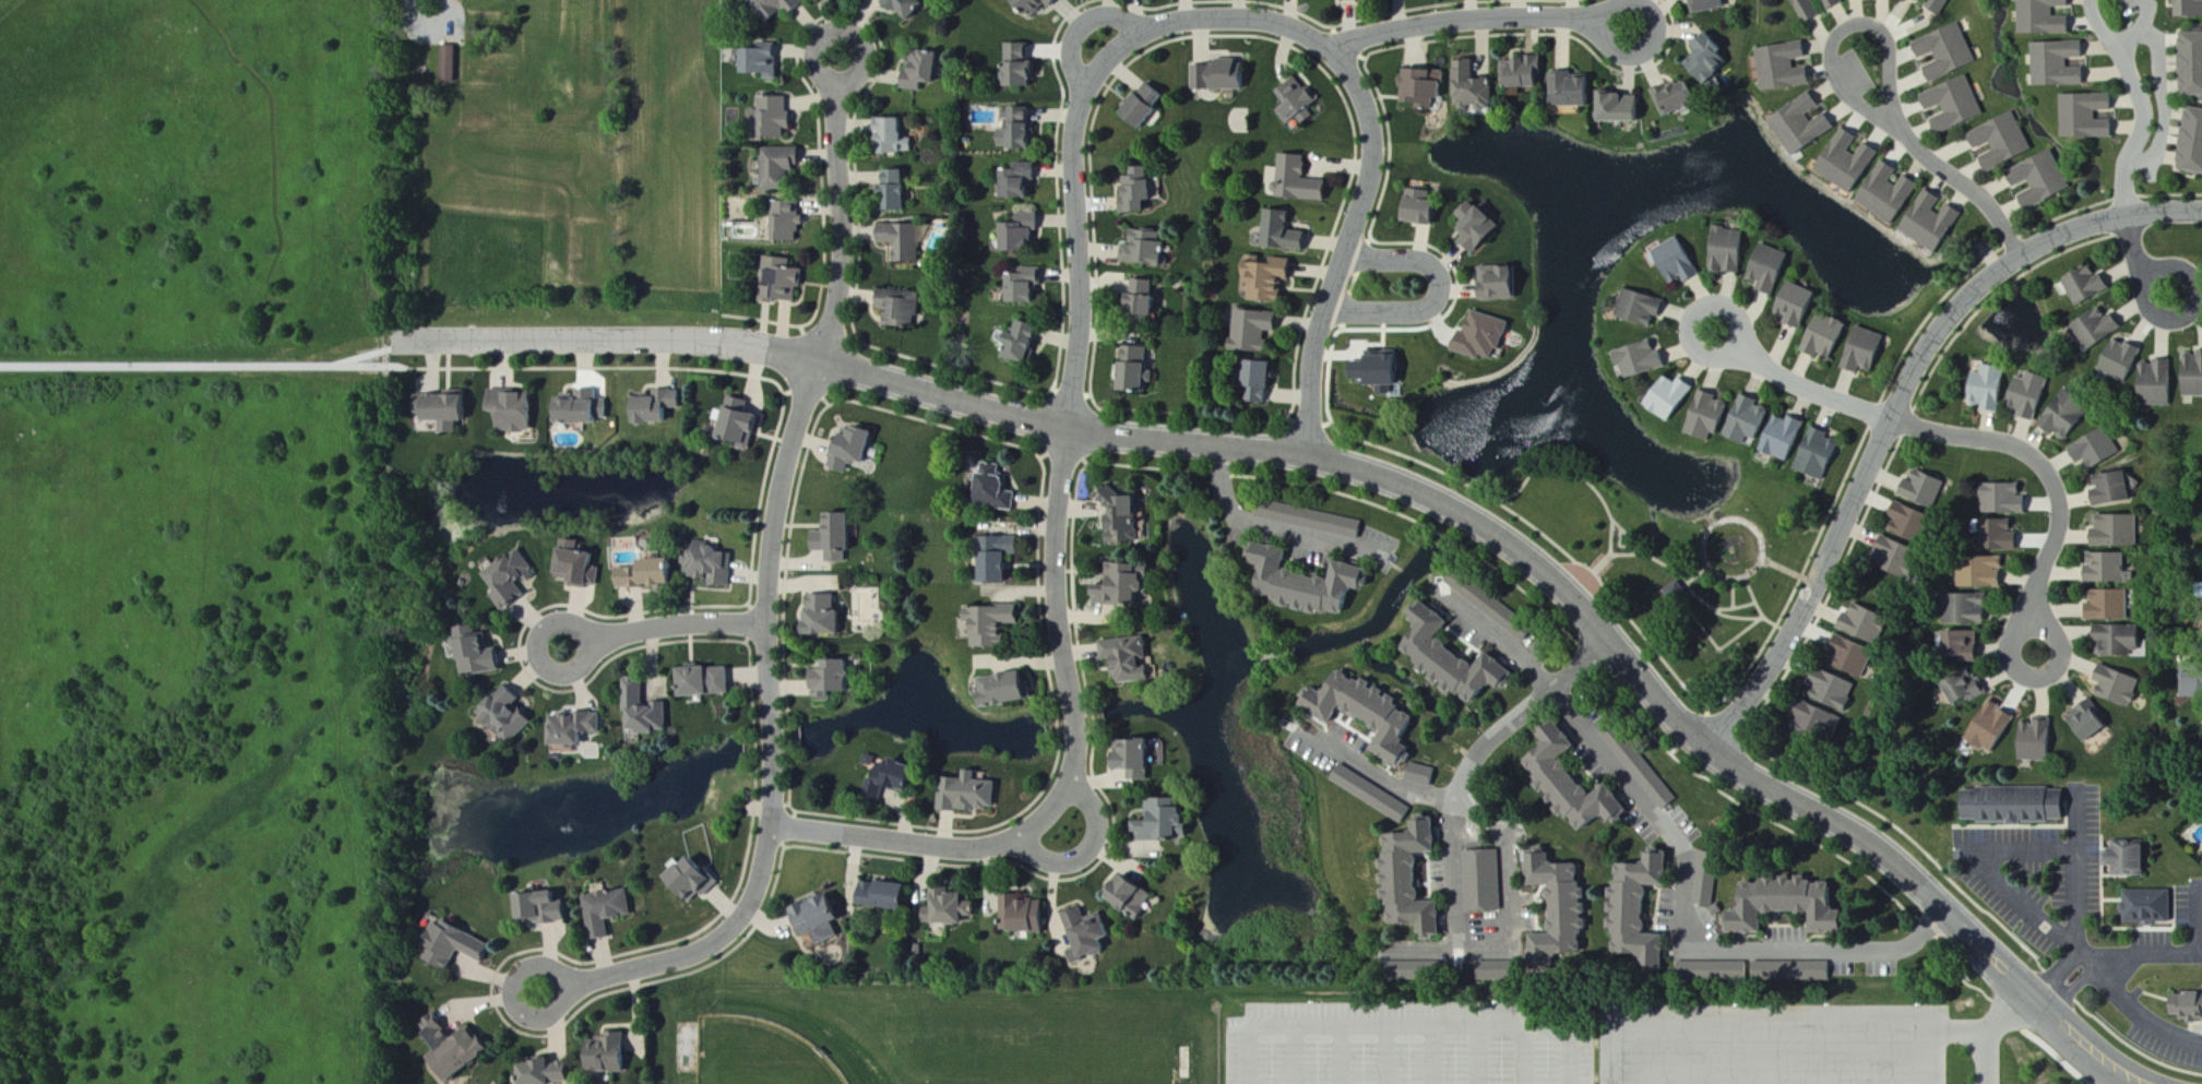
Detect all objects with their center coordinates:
building: (1345, 0)
building: (1923, 0)
building: (1836, 3)
building: (1038, 4)
building: (1711, 5)
building: (1943, 5)
building: (913, 7)
parking lot: (2132, 7)
building: (779, 9)
building: (2186, 9)
building: (1811, 10)
building: (2040, 17)
road: (1479, 21)
road: (430, 23)
road: (2136, 33)
road: (2106, 35)
building: (1950, 53)
building: (767, 61)
building: (1713, 61)
building: (452, 63)
building: (2055, 64)
building: (2188, 64)
building: (1787, 67)
building: (1026, 68)
building: (926, 71)
building: (1527, 73)
parking lot: (1856, 74)
road: (1891, 75)
building: (1230, 76)
building: (1204, 78)
building: (1429, 87)
road: (1844, 87)
building: (1475, 90)
building: (1578, 91)
building: (1682, 98)
building: (1301, 103)
building: (1959, 105)
building: (1152, 106)
road: (2165, 107)
building: (1627, 108)
building: (2083, 116)
building: (778, 117)
road: (1079, 120)
building: (1806, 126)
building: (1024, 130)
building: (900, 136)
road: (2139, 141)
building: (2007, 142)
building: (2189, 142)
building: (1852, 163)
building: (785, 167)
building: (1300, 181)
building: (2046, 181)
building: (1027, 182)
road: (1973, 190)
building: (902, 191)
building: (1142, 193)
building: (1892, 194)
building: (1426, 209)
road: (842, 211)
building: (793, 223)
building: (1936, 224)
building: (1481, 228)
building: (1028, 234)
building: (1288, 234)
building: (905, 243)
building: (1150, 250)
road: (1346, 251)
building: (1731, 251)
road: (2139, 261)
building: (1680, 262)
building: (1773, 271)
building: (1272, 278)
building: (785, 281)
building: (1503, 284)
building: (2083, 285)
building: (1032, 287)
building: (1150, 297)
road: (1440, 297)
building: (1799, 305)
building: (904, 308)
building: (1643, 308)
building: (2095, 329)
building: (1259, 330)
building: (1830, 336)
building: (1487, 337)
building: (1031, 344)
building: (1868, 350)
building: (2116, 359)
building: (1645, 361)
road: (199, 368)
building: (1142, 370)
building: (1384, 370)
building: (2167, 380)
building: (1266, 382)
road: (1800, 386)
building: (1991, 390)
building: (2034, 396)
building: (1673, 398)
building: (664, 408)
building: (584, 409)
building: (453, 410)
building: (519, 410)
road: (1897, 410)
building: (1711, 416)
building: (2070, 416)
building: (1751, 420)
building: (746, 425)
building: (1787, 438)
building: (2091, 448)
building: (857, 449)
road: (1287, 454)
building: (1822, 454)
road: (2052, 481)
building: (2106, 488)
building: (1000, 489)
building: (1927, 489)
building: (2005, 500)
building: (1126, 519)
building: (1316, 521)
building: (1915, 524)
road: (1274, 528)
building: (2112, 531)
building: (1997, 536)
building: (840, 538)
building: (1901, 558)
building: (1003, 559)
building: (712, 563)
building: (580, 565)
building: (2102, 567)
building: (1979, 570)
building: (515, 582)
building: (1312, 584)
building: (1126, 588)
building: (2104, 604)
building: (1495, 607)
building: (1962, 607)
building: (829, 618)
building: (1869, 624)
building: (997, 626)
building: (2115, 639)
road: (594, 643)
building: (1956, 644)
building: (481, 654)
building: (1854, 657)
building: (1133, 659)
building: (837, 680)
building: (711, 682)
building: (2189, 682)
building: (2112, 684)
building: (1960, 686)
building: (1011, 691)
building: (1838, 693)
building: (647, 711)
building: (1372, 715)
building: (511, 716)
building: (2083, 719)
building: (1821, 725)
building: (1989, 726)
building: (578, 729)
building: (2033, 740)
building: (1141, 761)
road: (1072, 767)
road: (1376, 772)
building: (1426, 775)
building: (897, 778)
building: (1581, 786)
building: (974, 795)
building: (1376, 796)
building: (2009, 805)
road: (771, 821)
road: (2076, 822)
building: (1168, 824)
road: (1995, 848)
road: (1086, 849)
road: (1688, 856)
building: (2121, 858)
building: (1417, 880)
building: (1710, 880)
building: (698, 881)
building: (1486, 882)
road: (1444, 888)
building: (889, 896)
building: (1136, 898)
building: (1777, 903)
building: (2144, 905)
building: (952, 908)
building: (1566, 909)
building: (1644, 909)
building: (546, 910)
building: (610, 913)
building: (1027, 916)
building: (823, 918)
building: (1093, 936)
building: (459, 948)
road: (2147, 953)
building: (1710, 969)
building: (1789, 970)
building: (1418, 972)
road: (2059, 975)
road: (2074, 990)
building: (2183, 1005)
road: (2142, 1015)
road: (1774, 1024)
road: (1988, 1027)
road: (1405, 1031)
road: (2071, 1032)
road: (2030, 1035)
building: (460, 1049)
park: (757, 1053)
building: (614, 1055)
road: (1336, 1057)
road: (1382, 1057)
road: (1428, 1057)
road: (1475, 1057)
road: (1522, 1057)
road: (1292, 1058)
building: (547, 1073)

